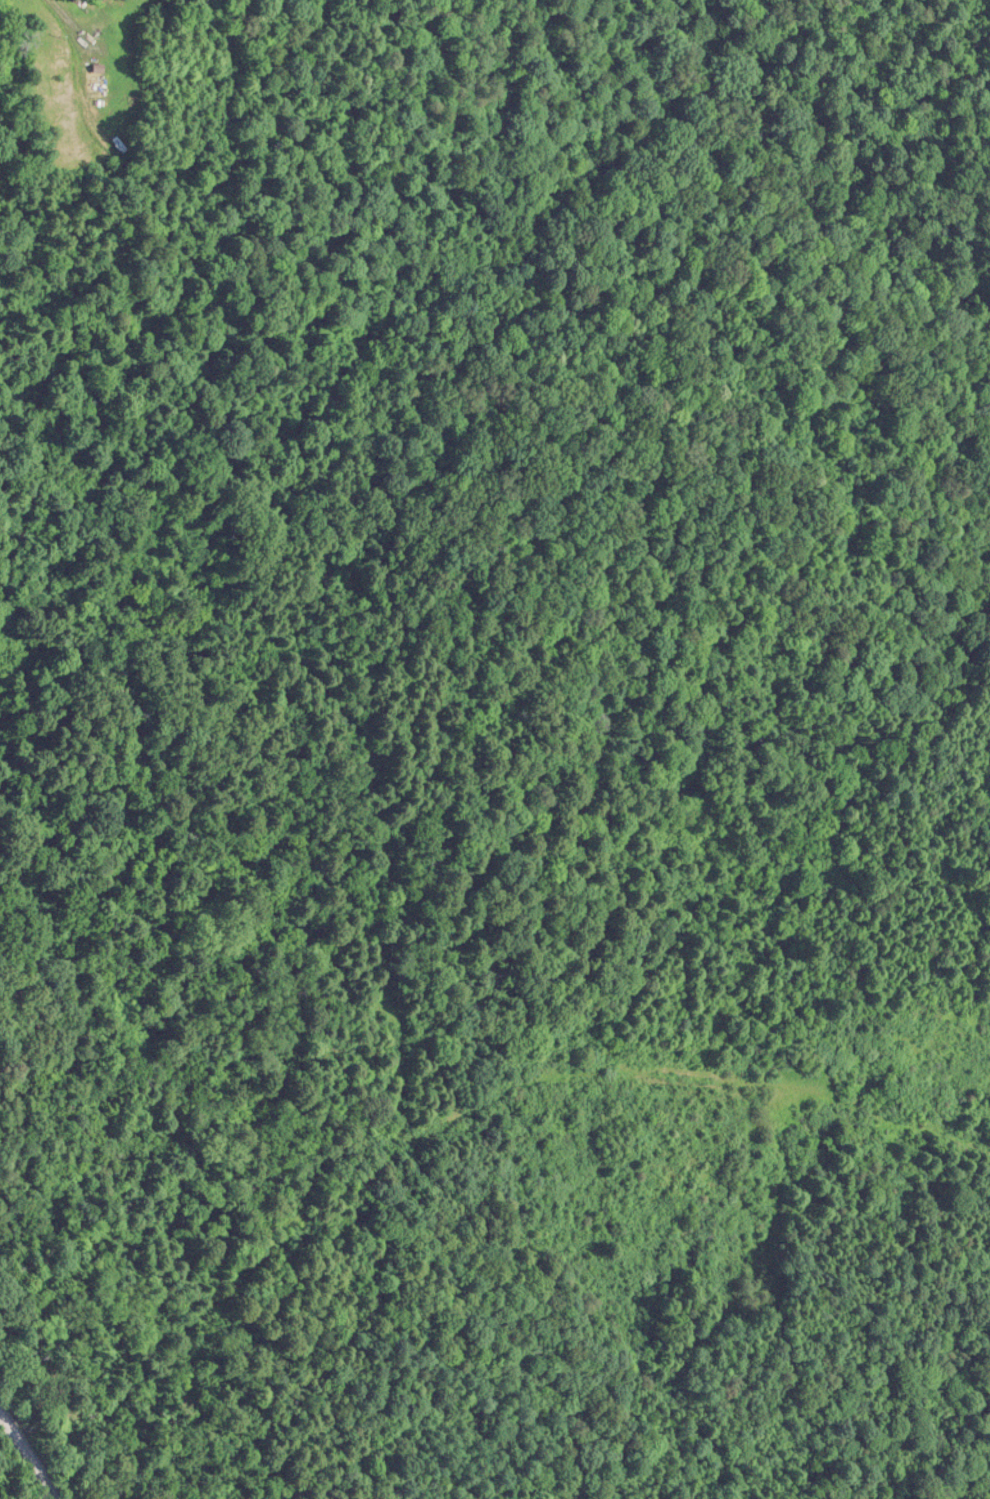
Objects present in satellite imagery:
road: (63, 23)
building: (97, 78)
road: (18, 1469)

